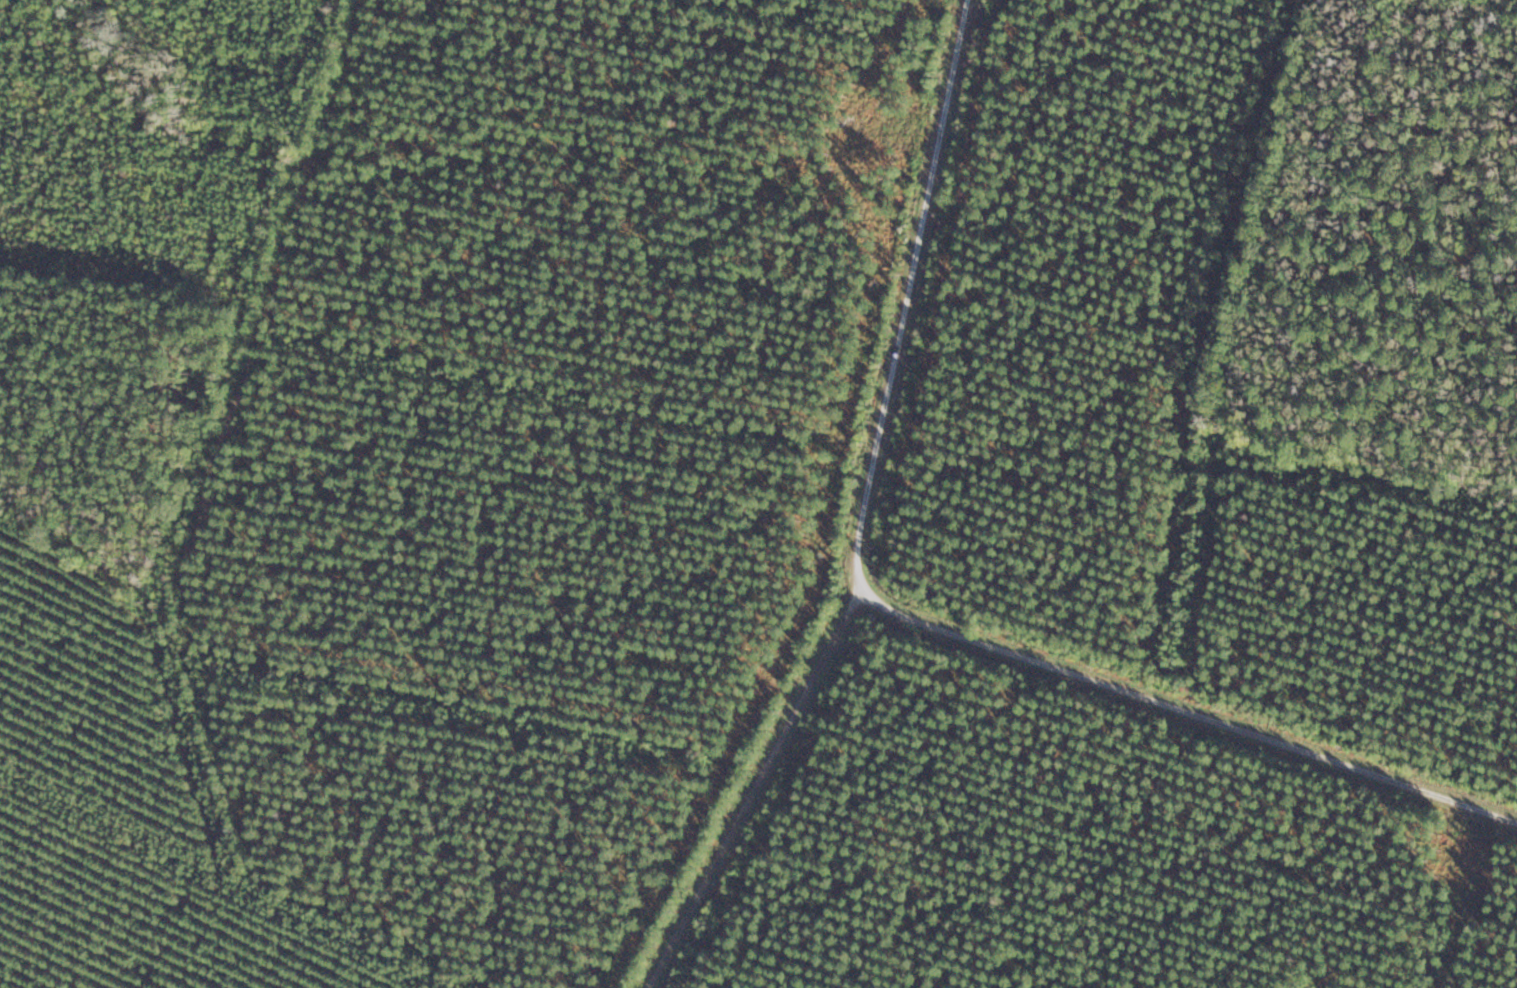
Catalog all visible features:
road: (900, 613)

